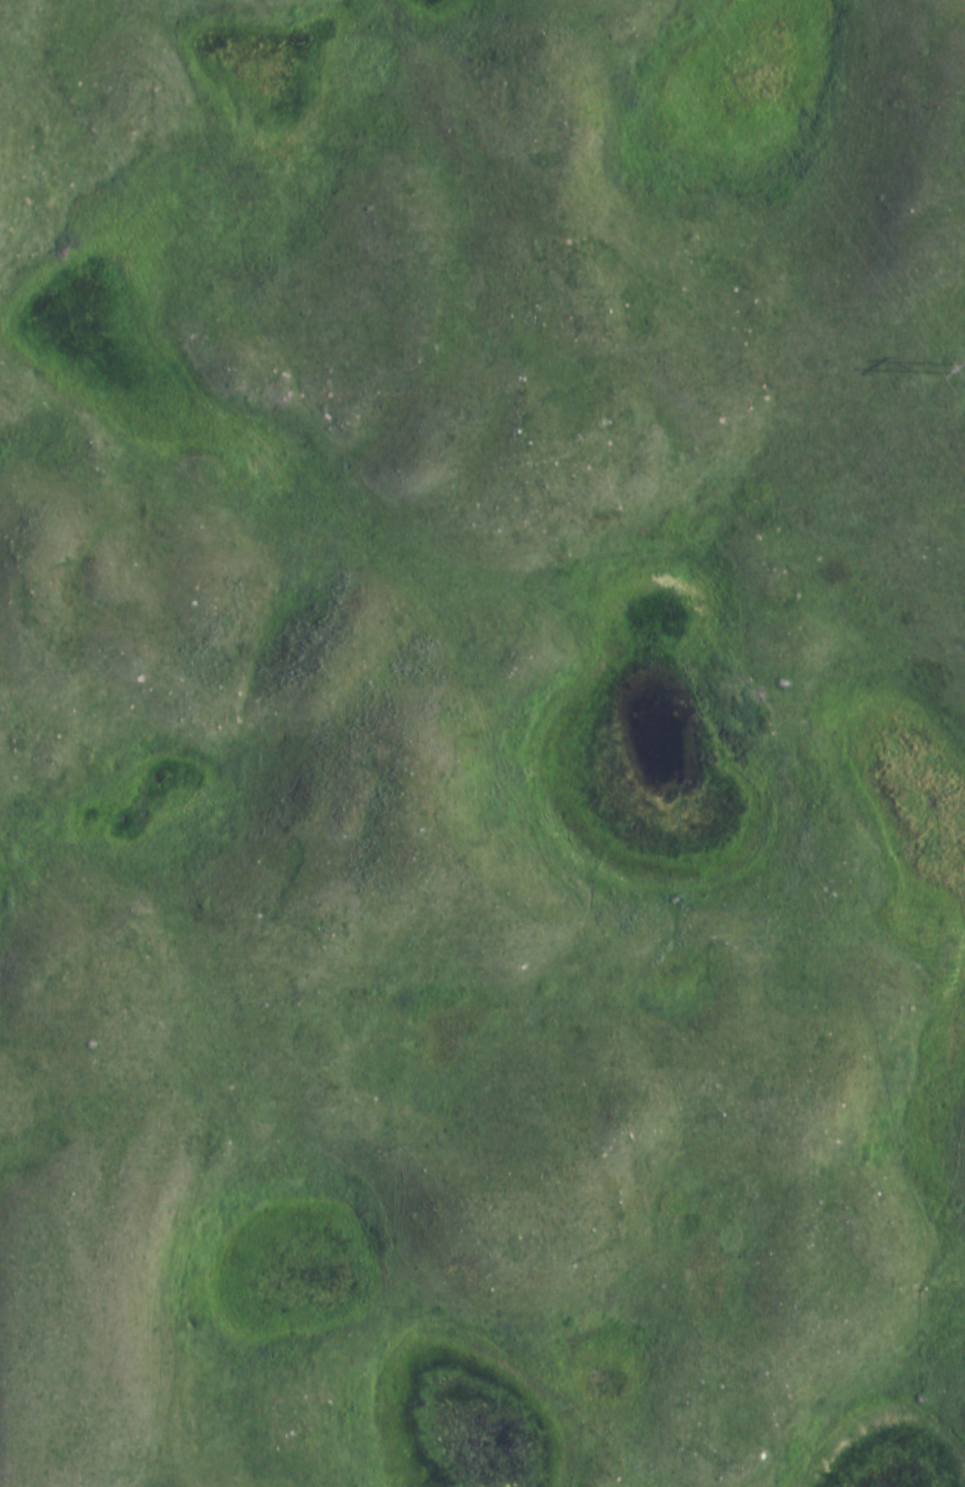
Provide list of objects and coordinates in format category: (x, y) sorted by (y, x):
power tower: (946, 368)

